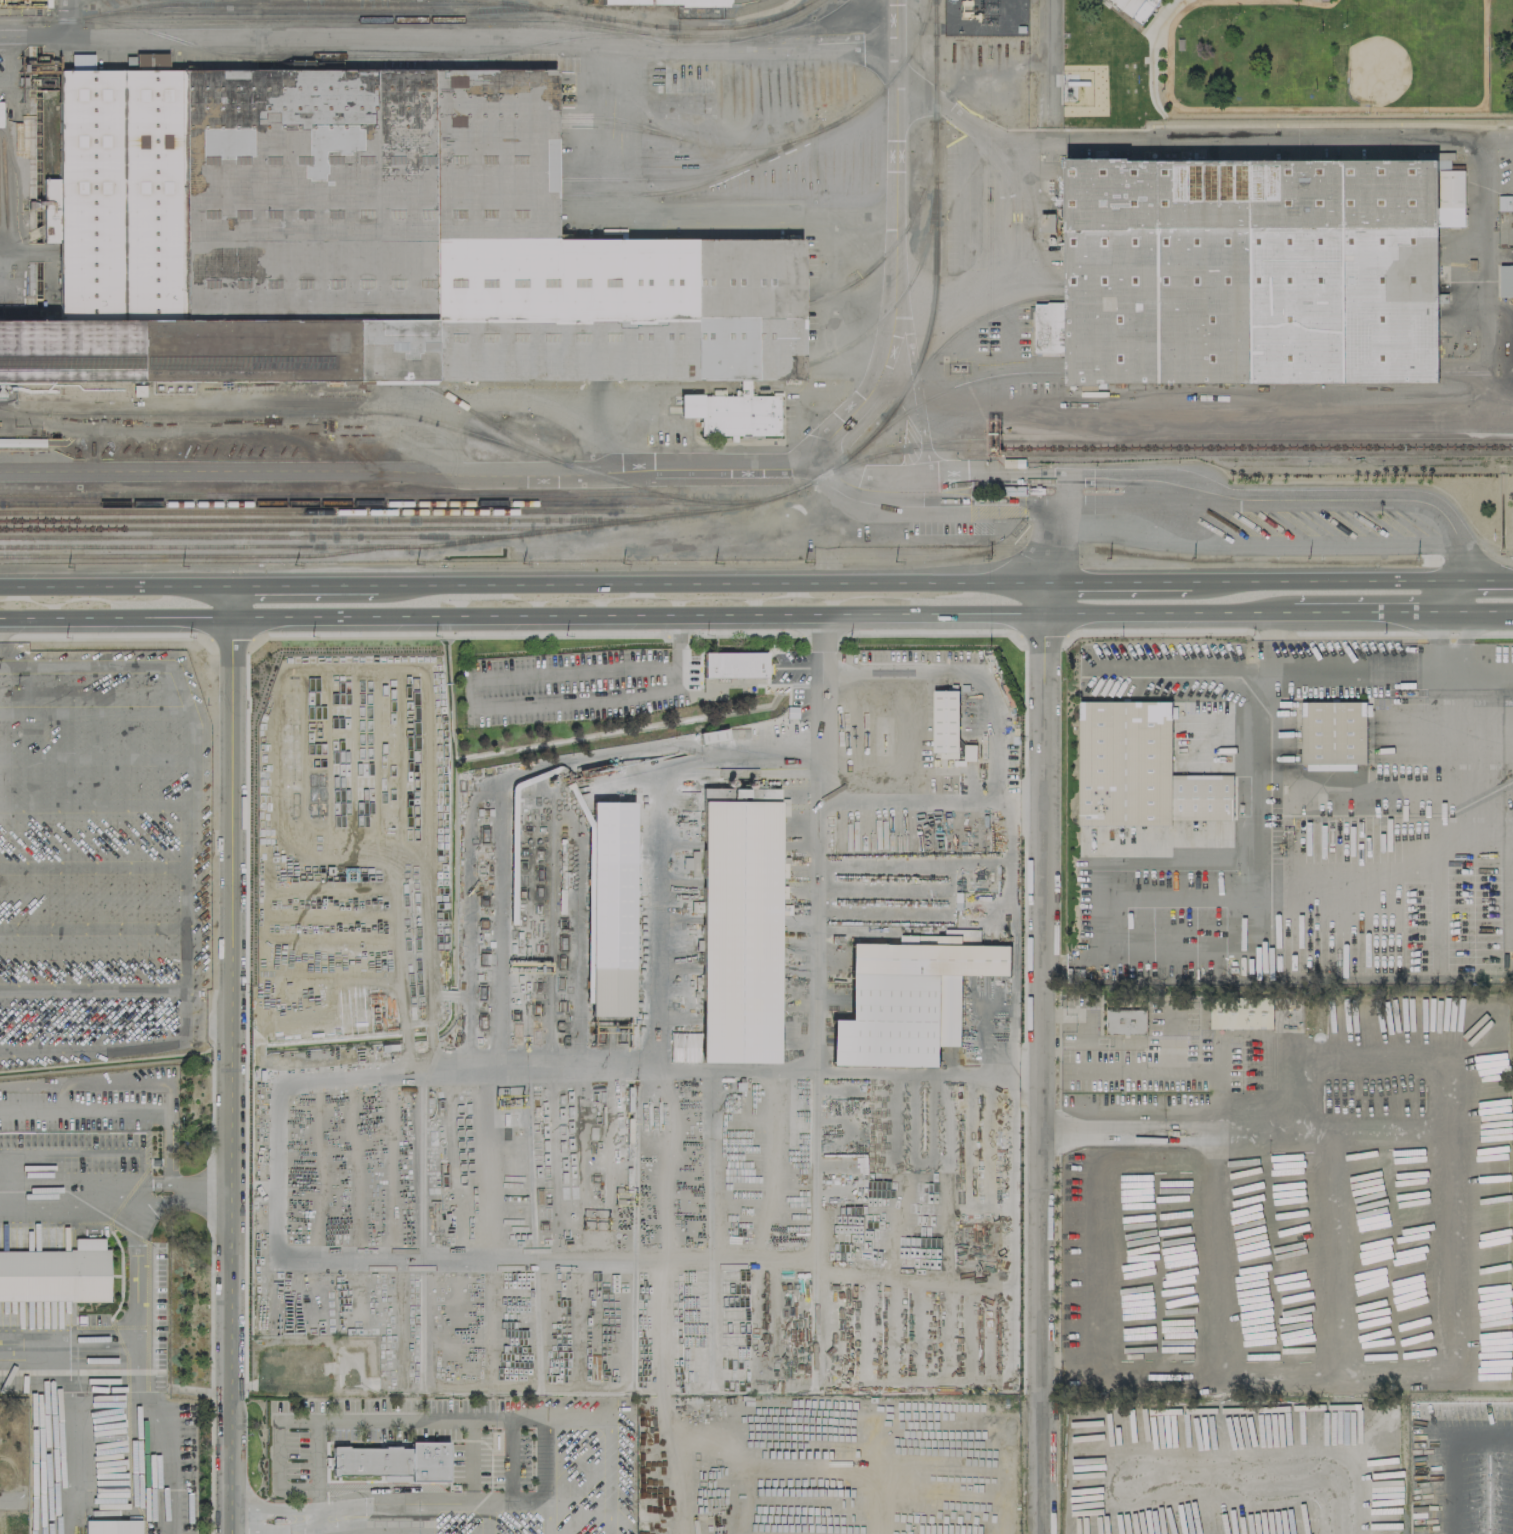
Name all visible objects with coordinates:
railway: (408, 3)
building: (684, 7)
building: (1135, 7)
railway: (328, 12)
railway: (378, 19)
road: (70, 20)
road: (450, 38)
road: (1150, 52)
park: (1412, 52)
track: (1326, 54)
railway: (436, 56)
road: (1051, 58)
park: (1339, 59)
railway: (570, 125)
railway: (727, 147)
railway: (609, 178)
railway: (651, 193)
building: (1504, 202)
building: (49, 209)
building: (365, 241)
road: (24, 253)
building: (1252, 268)
railway: (862, 274)
road: (1476, 278)
building: (1506, 280)
railway: (1137, 295)
railway: (776, 302)
railway: (863, 334)
railway: (1162, 373)
building: (138, 390)
railway: (23, 411)
railway: (373, 413)
railway: (486, 421)
railway: (1191, 439)
building: (22, 442)
railway: (1155, 448)
road: (651, 470)
railway: (346, 494)
road: (1287, 496)
railway: (758, 498)
railway: (367, 503)
railway: (359, 511)
railway: (670, 514)
railway: (326, 519)
railway: (293, 528)
railway: (259, 537)
railway: (203, 546)
road: (1482, 579)
road: (1320, 580)
road: (1116, 582)
road: (709, 583)
road: (115, 585)
road: (303, 585)
road: (1451, 595)
road: (230, 601)
road: (1482, 610)
road: (1369, 611)
road: (1165, 612)
road: (521, 616)
road: (1172, 629)
road: (938, 631)
road: (743, 632)
road: (1041, 633)
road: (1389, 633)
road: (1501, 633)
road: (453, 634)
road: (113, 636)
road: (820, 636)
road: (229, 638)
road: (677, 638)
road: (4, 639)
road: (674, 653)
building: (733, 664)
road: (821, 665)
road: (962, 672)
road: (1483, 672)
road: (1279, 676)
building: (945, 722)
building: (1332, 732)
road: (1457, 757)
building: (1138, 770)
road: (866, 798)
road: (1255, 851)
road: (1175, 860)
road: (469, 922)
building: (738, 925)
building: (609, 938)
building: (909, 996)
road: (1041, 1007)
building: (1241, 1013)
building: (1125, 1022)
road: (1169, 1039)
road: (817, 1047)
road: (1366, 1055)
road: (230, 1076)
road: (1177, 1125)
road: (1122, 1134)
road: (69, 1167)
road: (183, 1188)
road: (1225, 1202)
road: (1094, 1269)
building: (56, 1273)
road: (1449, 1302)
road: (132, 1334)
road: (575, 1415)
road: (535, 1416)
road: (413, 1417)
road: (162, 1436)
road: (67, 1442)
road: (470, 1461)
building: (393, 1462)
road: (509, 1462)
road: (560, 1462)
road: (591, 1462)
road: (317, 1471)
road: (9, 1501)
road: (535, 1507)
road: (304, 1517)
road: (626, 1522)
building: (112, 1526)

